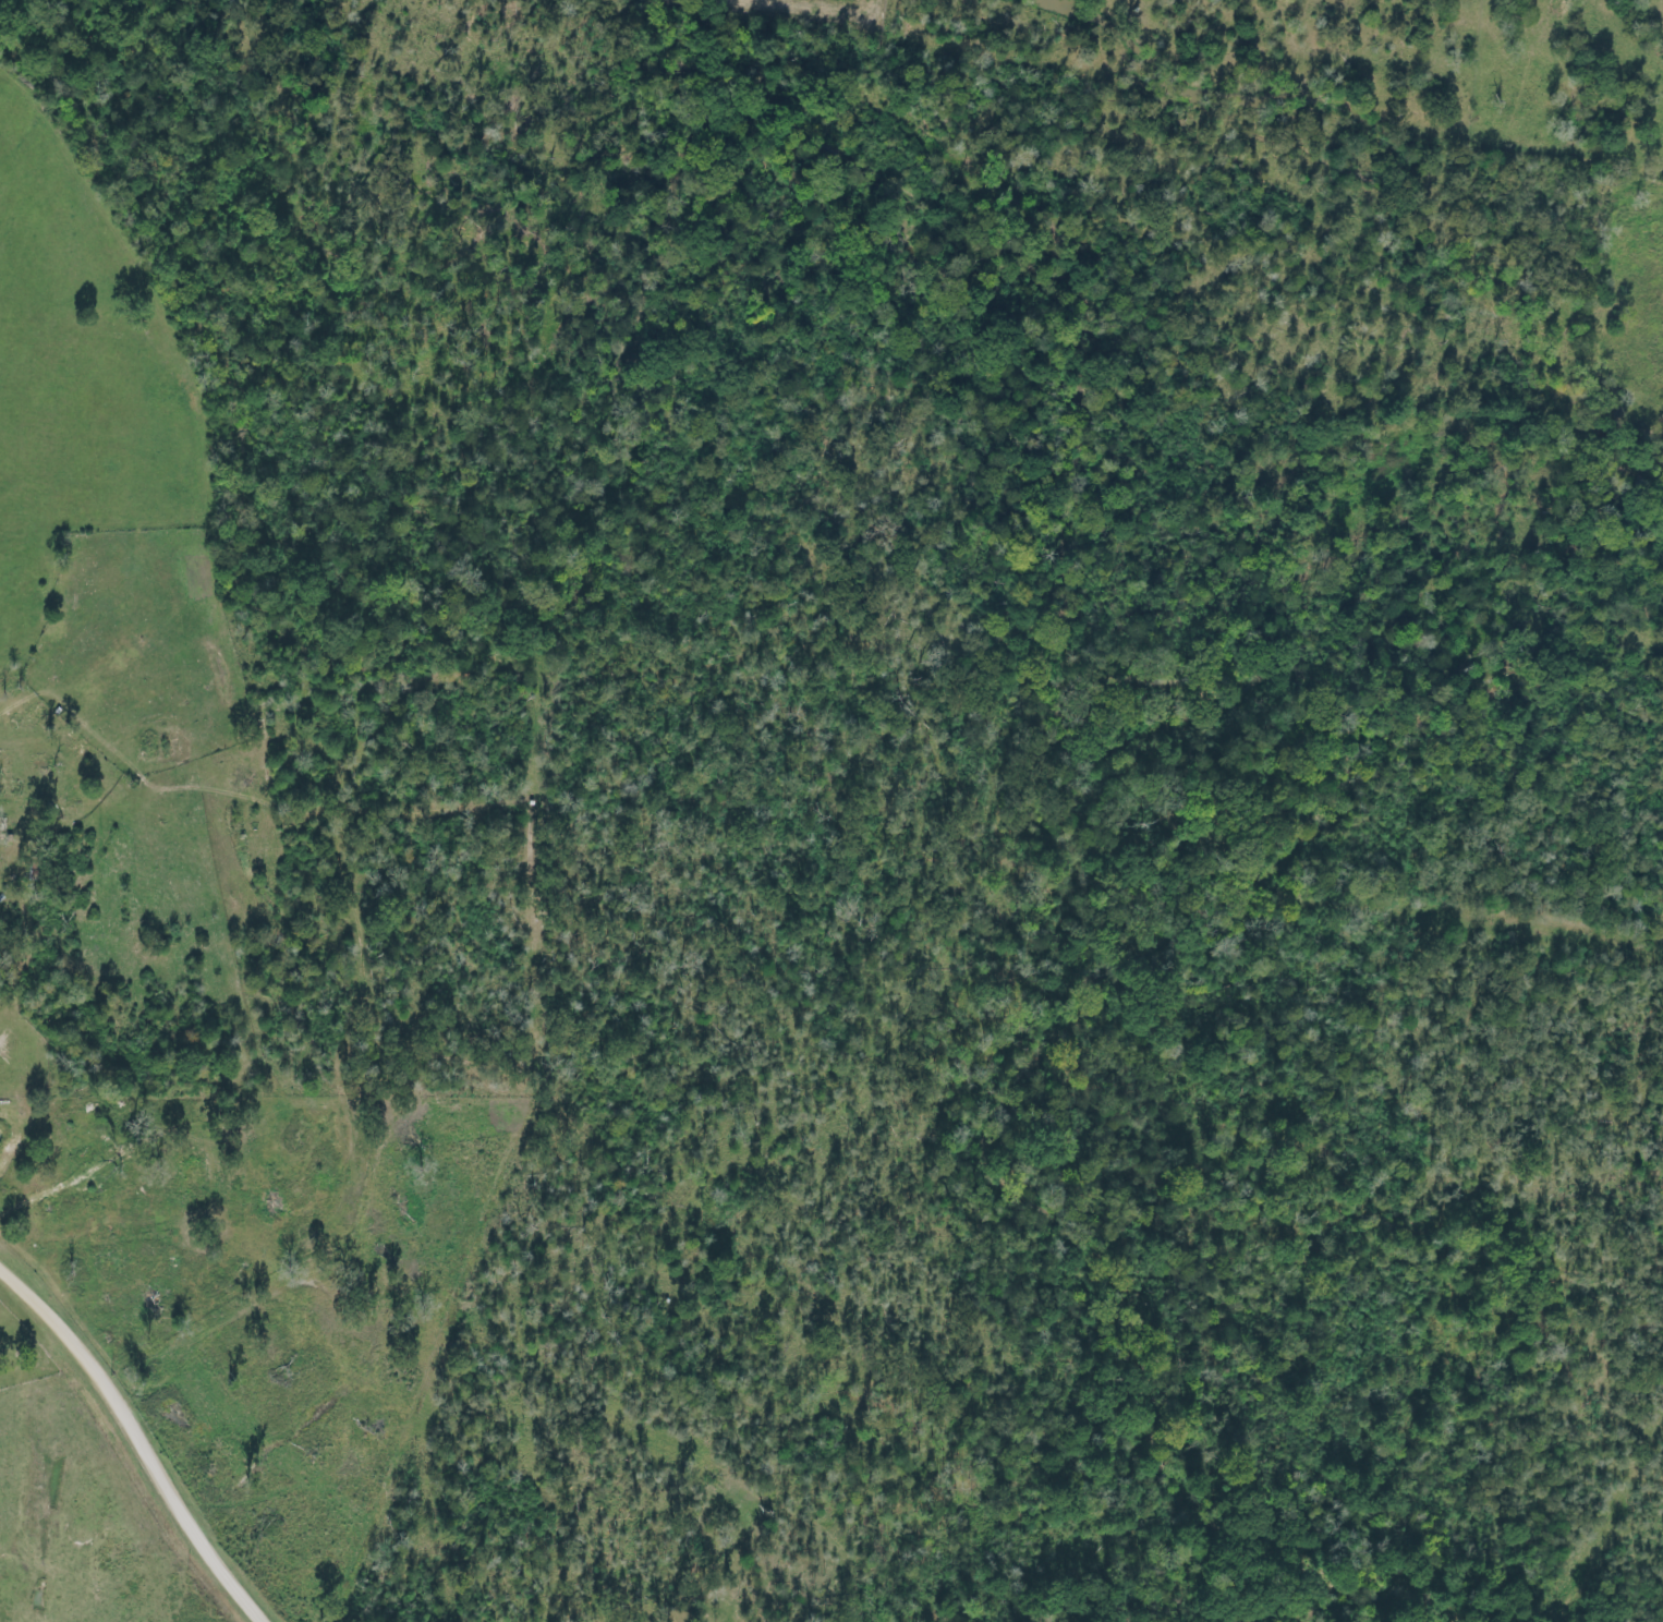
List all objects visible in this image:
road: (138, 1439)

